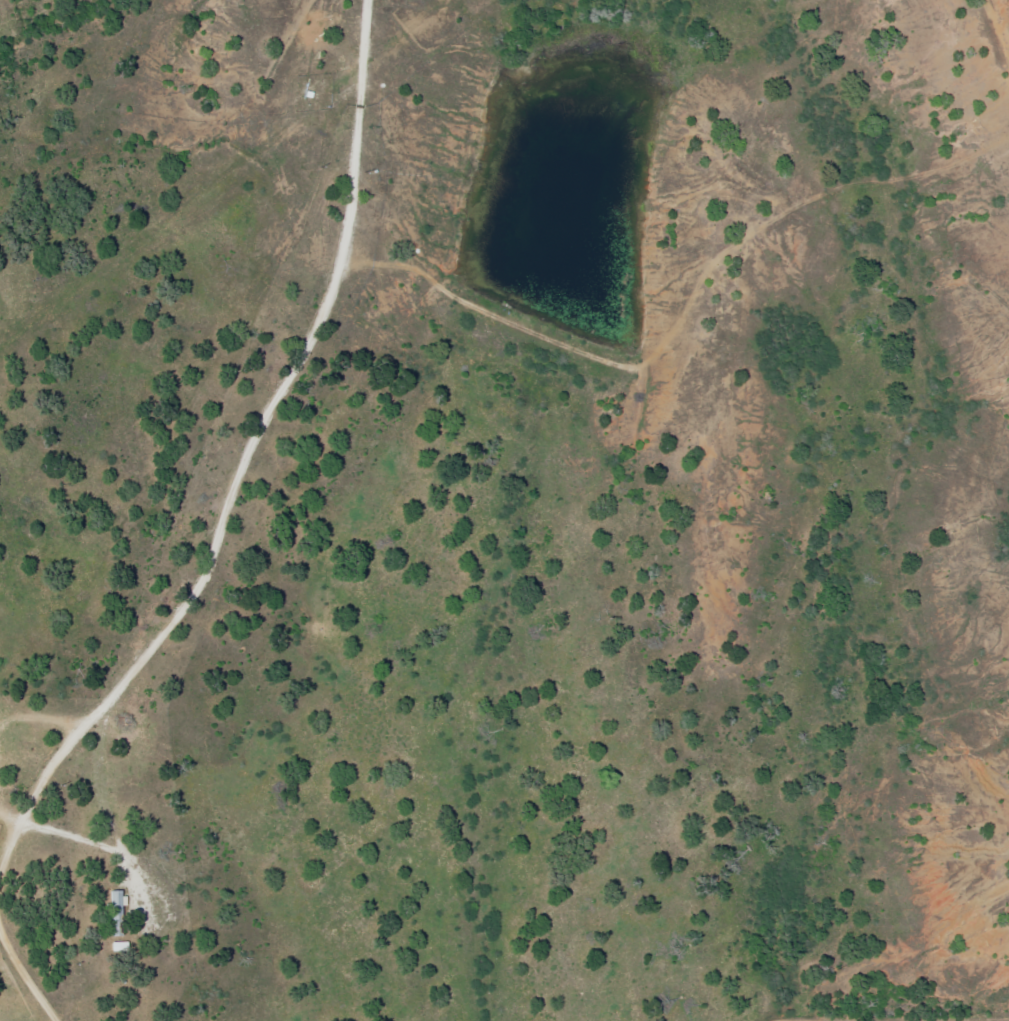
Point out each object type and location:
road: (246, 494)
building: (118, 900)
road: (821, 1020)

